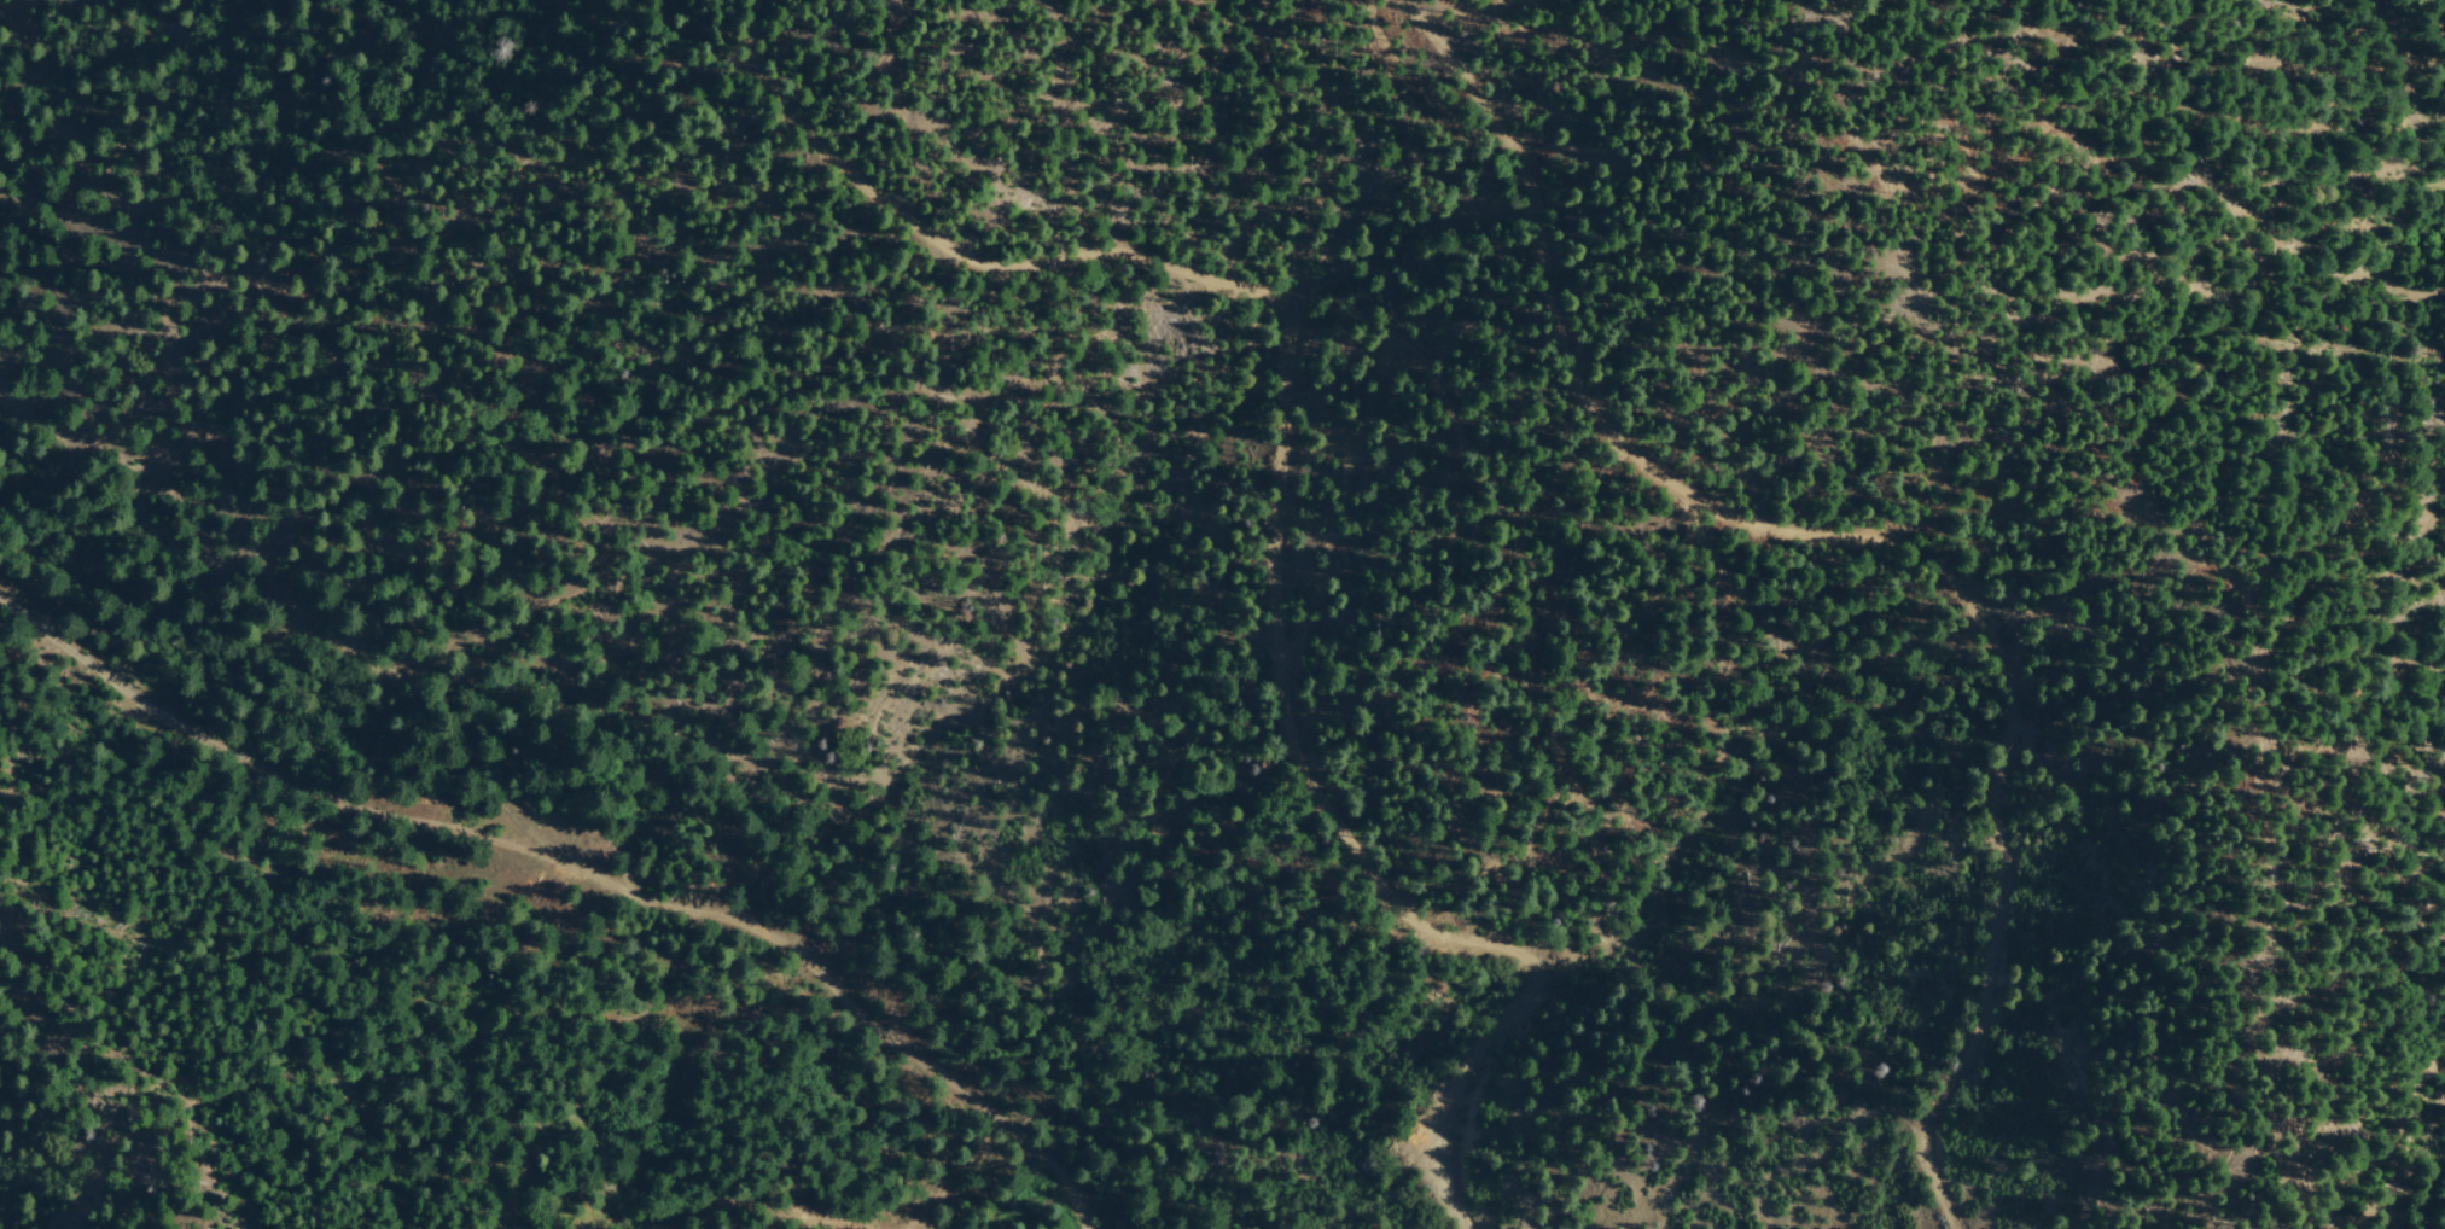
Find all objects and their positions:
road: (2402, 174)
road: (1282, 501)
road: (1858, 548)
road: (574, 874)

